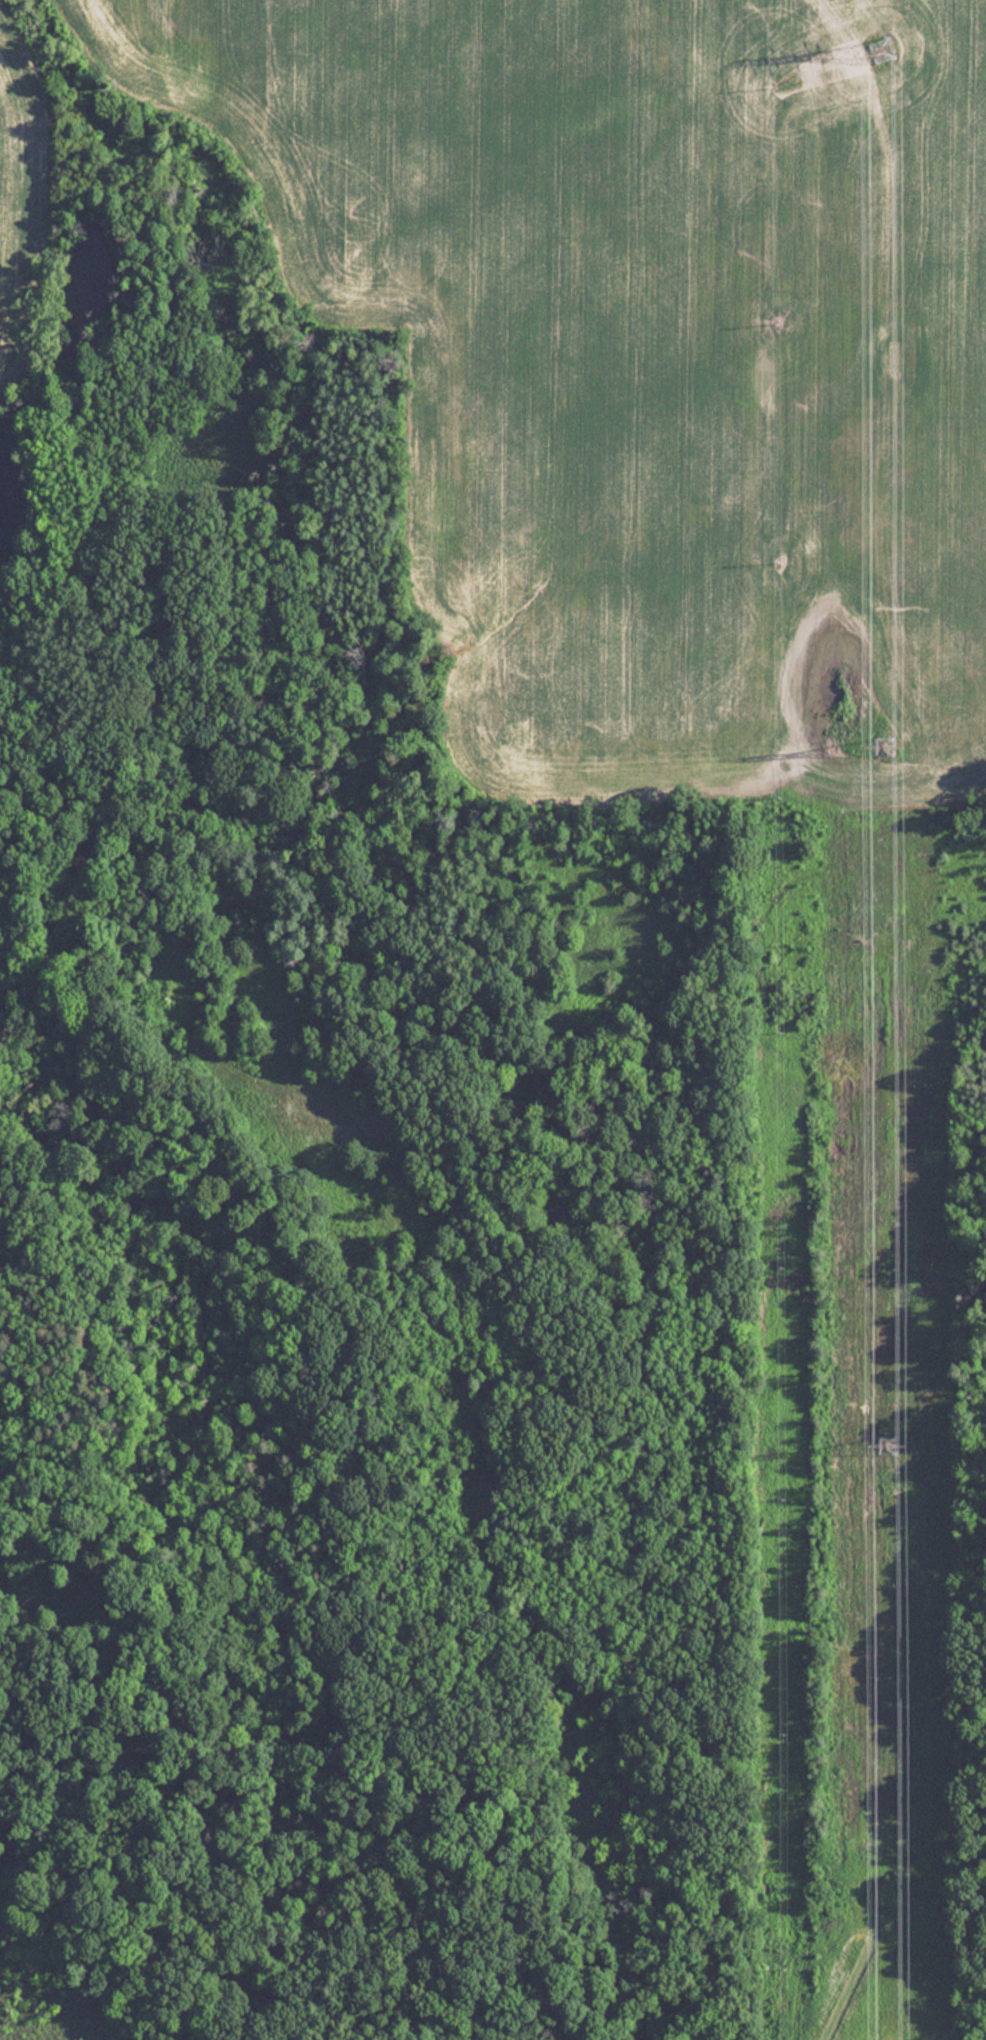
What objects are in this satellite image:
power tower: (882, 50)
power tower: (887, 747)
power tower: (887, 1446)

